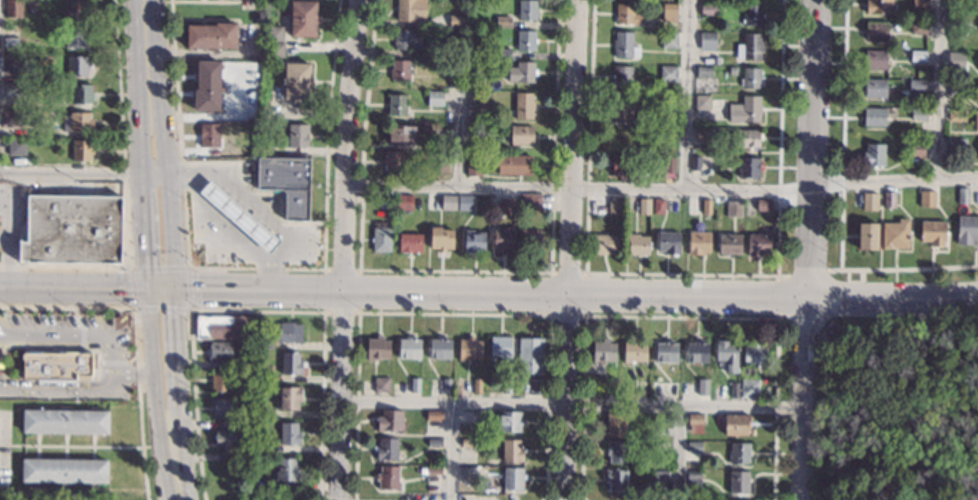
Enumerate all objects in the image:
building: (708, 1)
building: (919, 4)
building: (879, 7)
building: (13, 8)
building: (74, 10)
building: (411, 10)
building: (527, 10)
building: (708, 10)
building: (669, 12)
building: (627, 14)
building: (752, 15)
building: (961, 17)
building: (302, 19)
building: (456, 21)
building: (503, 22)
building: (918, 28)
building: (876, 31)
building: (274, 33)
building: (211, 36)
building: (77, 38)
building: (409, 39)
building: (525, 40)
building: (669, 40)
building: (707, 41)
building: (10, 43)
building: (623, 44)
building: (749, 47)
building: (275, 50)
building: (455, 50)
road: (203, 53)
building: (501, 53)
building: (918, 56)
building: (876, 59)
building: (715, 60)
building: (955, 62)
building: (11, 63)
building: (77, 65)
building: (399, 70)
building: (732, 70)
building: (518, 72)
building: (704, 72)
building: (668, 73)
building: (623, 76)
building: (471, 78)
building: (751, 78)
building: (454, 79)
building: (296, 80)
building: (917, 85)
building: (207, 86)
building: (875, 88)
building: (957, 88)
road: (938, 89)
building: (10, 90)
building: (977, 92)
building: (81, 93)
road: (815, 94)
road: (684, 95)
building: (435, 98)
building: (484, 100)
building: (701, 102)
building: (397, 104)
building: (523, 105)
building: (622, 107)
building: (744, 110)
building: (248, 113)
building: (269, 113)
building: (919, 114)
building: (957, 115)
building: (875, 117)
building: (11, 118)
building: (976, 121)
building: (78, 122)
building: (402, 133)
building: (701, 133)
building: (521, 134)
building: (667, 134)
building: (209, 135)
building: (297, 136)
building: (624, 137)
building: (747, 139)
road: (778, 139)
road: (144, 146)
building: (955, 146)
building: (16, 147)
road: (166, 147)
building: (259, 149)
building: (914, 149)
building: (81, 151)
building: (873, 155)
building: (393, 161)
building: (694, 162)
building: (622, 164)
building: (669, 164)
building: (514, 165)
building: (436, 167)
building: (748, 167)
building: (473, 168)
road: (84, 175)
road: (957, 177)
building: (287, 183)
road: (875, 183)
road: (578, 190)
building: (963, 195)
road: (124, 198)
building: (889, 198)
building: (926, 198)
building: (386, 199)
building: (869, 200)
building: (404, 202)
building: (448, 202)
building: (464, 202)
building: (490, 203)
building: (530, 203)
building: (613, 205)
building: (761, 205)
building: (507, 206)
building: (643, 206)
building: (658, 206)
building: (706, 207)
building: (733, 209)
building: (239, 216)
building: (72, 230)
building: (967, 230)
building: (932, 232)
building: (895, 234)
building: (867, 235)
building: (381, 237)
road: (584, 238)
building: (440, 239)
building: (503, 239)
building: (529, 240)
road: (4, 241)
building: (473, 241)
road: (8, 242)
building: (410, 242)
building: (668, 242)
building: (698, 242)
road: (289, 243)
building: (604, 244)
building: (637, 244)
building: (729, 244)
building: (757, 244)
road: (343, 249)
road: (570, 249)
traffic signals: (152, 264)
road: (255, 268)
road: (901, 269)
road: (454, 271)
road: (806, 273)
road: (270, 275)
road: (89, 290)
traffic signals: (126, 292)
traffic signals: (196, 294)
road: (492, 294)
road: (777, 297)
road: (893, 297)
road: (187, 307)
road: (258, 312)
road: (357, 312)
traffic signals: (177, 314)
road: (451, 314)
road: (583, 316)
road: (587, 317)
building: (223, 327)
building: (282, 335)
road: (73, 337)
road: (135, 337)
road: (13, 343)
road: (806, 343)
road: (4, 346)
building: (409, 347)
building: (502, 347)
building: (378, 348)
building: (440, 348)
building: (469, 348)
building: (220, 351)
building: (603, 351)
building: (633, 351)
building: (666, 351)
building: (696, 352)
building: (754, 352)
building: (726, 355)
building: (531, 361)
building: (291, 363)
building: (246, 364)
building: (56, 365)
road: (162, 369)
road: (174, 369)
road: (135, 376)
building: (242, 377)
building: (258, 377)
building: (220, 380)
road: (3, 383)
road: (53, 384)
building: (382, 385)
building: (415, 385)
building: (446, 385)
building: (477, 386)
building: (508, 386)
building: (609, 386)
building: (641, 387)
building: (703, 388)
building: (749, 388)
building: (734, 389)
road: (63, 393)
building: (289, 398)
building: (243, 399)
road: (573, 404)
building: (223, 407)
road: (774, 407)
park: (910, 407)
building: (256, 413)
building: (434, 415)
building: (469, 416)
building: (390, 419)
building: (65, 421)
building: (510, 422)
building: (615, 422)
building: (694, 422)
building: (736, 424)
building: (661, 430)
building: (289, 434)
building: (225, 439)
building: (435, 442)
building: (468, 443)
building: (660, 445)
road: (71, 446)
building: (694, 446)
building: (255, 448)
building: (387, 448)
road: (450, 451)
building: (512, 451)
building: (616, 451)
building: (739, 452)
road: (678, 453)
building: (688, 464)
building: (287, 470)
building: (473, 470)
building: (64, 471)
building: (434, 471)
road: (173, 472)
building: (659, 474)
building: (388, 478)
building: (692, 478)
building: (513, 479)
building: (615, 479)
building: (739, 482)
building: (255, 485)

